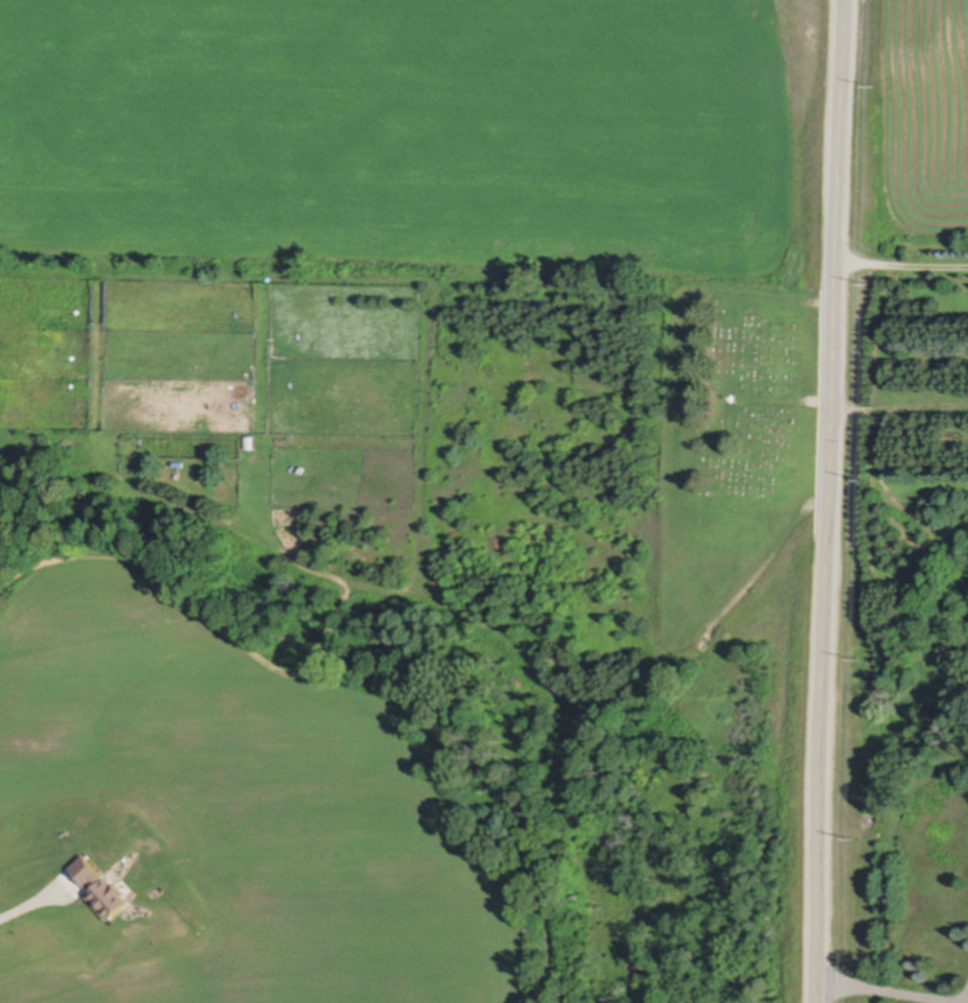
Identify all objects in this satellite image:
park: (740, 404)
building: (251, 440)
road: (828, 501)
road: (633, 720)
building: (103, 888)
road: (893, 989)

